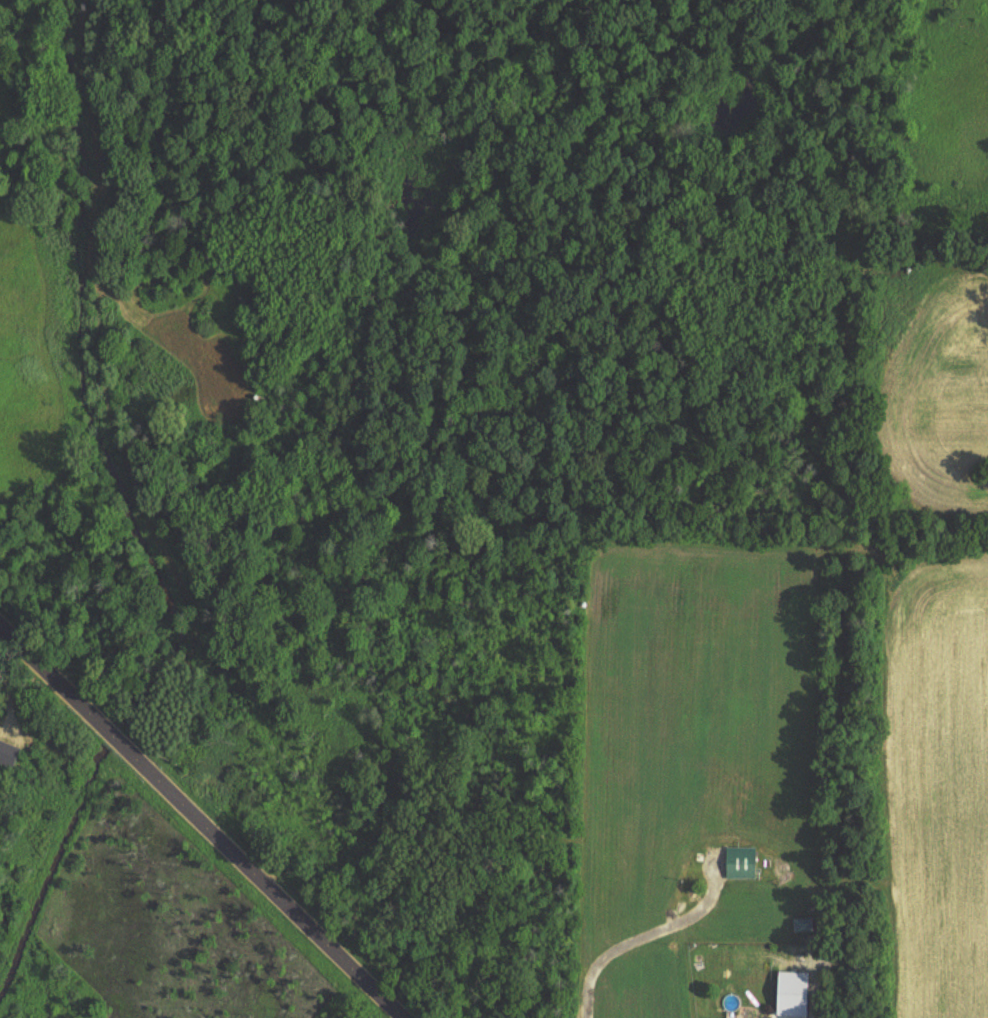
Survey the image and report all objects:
road: (200, 824)
building: (742, 863)
road: (639, 939)

